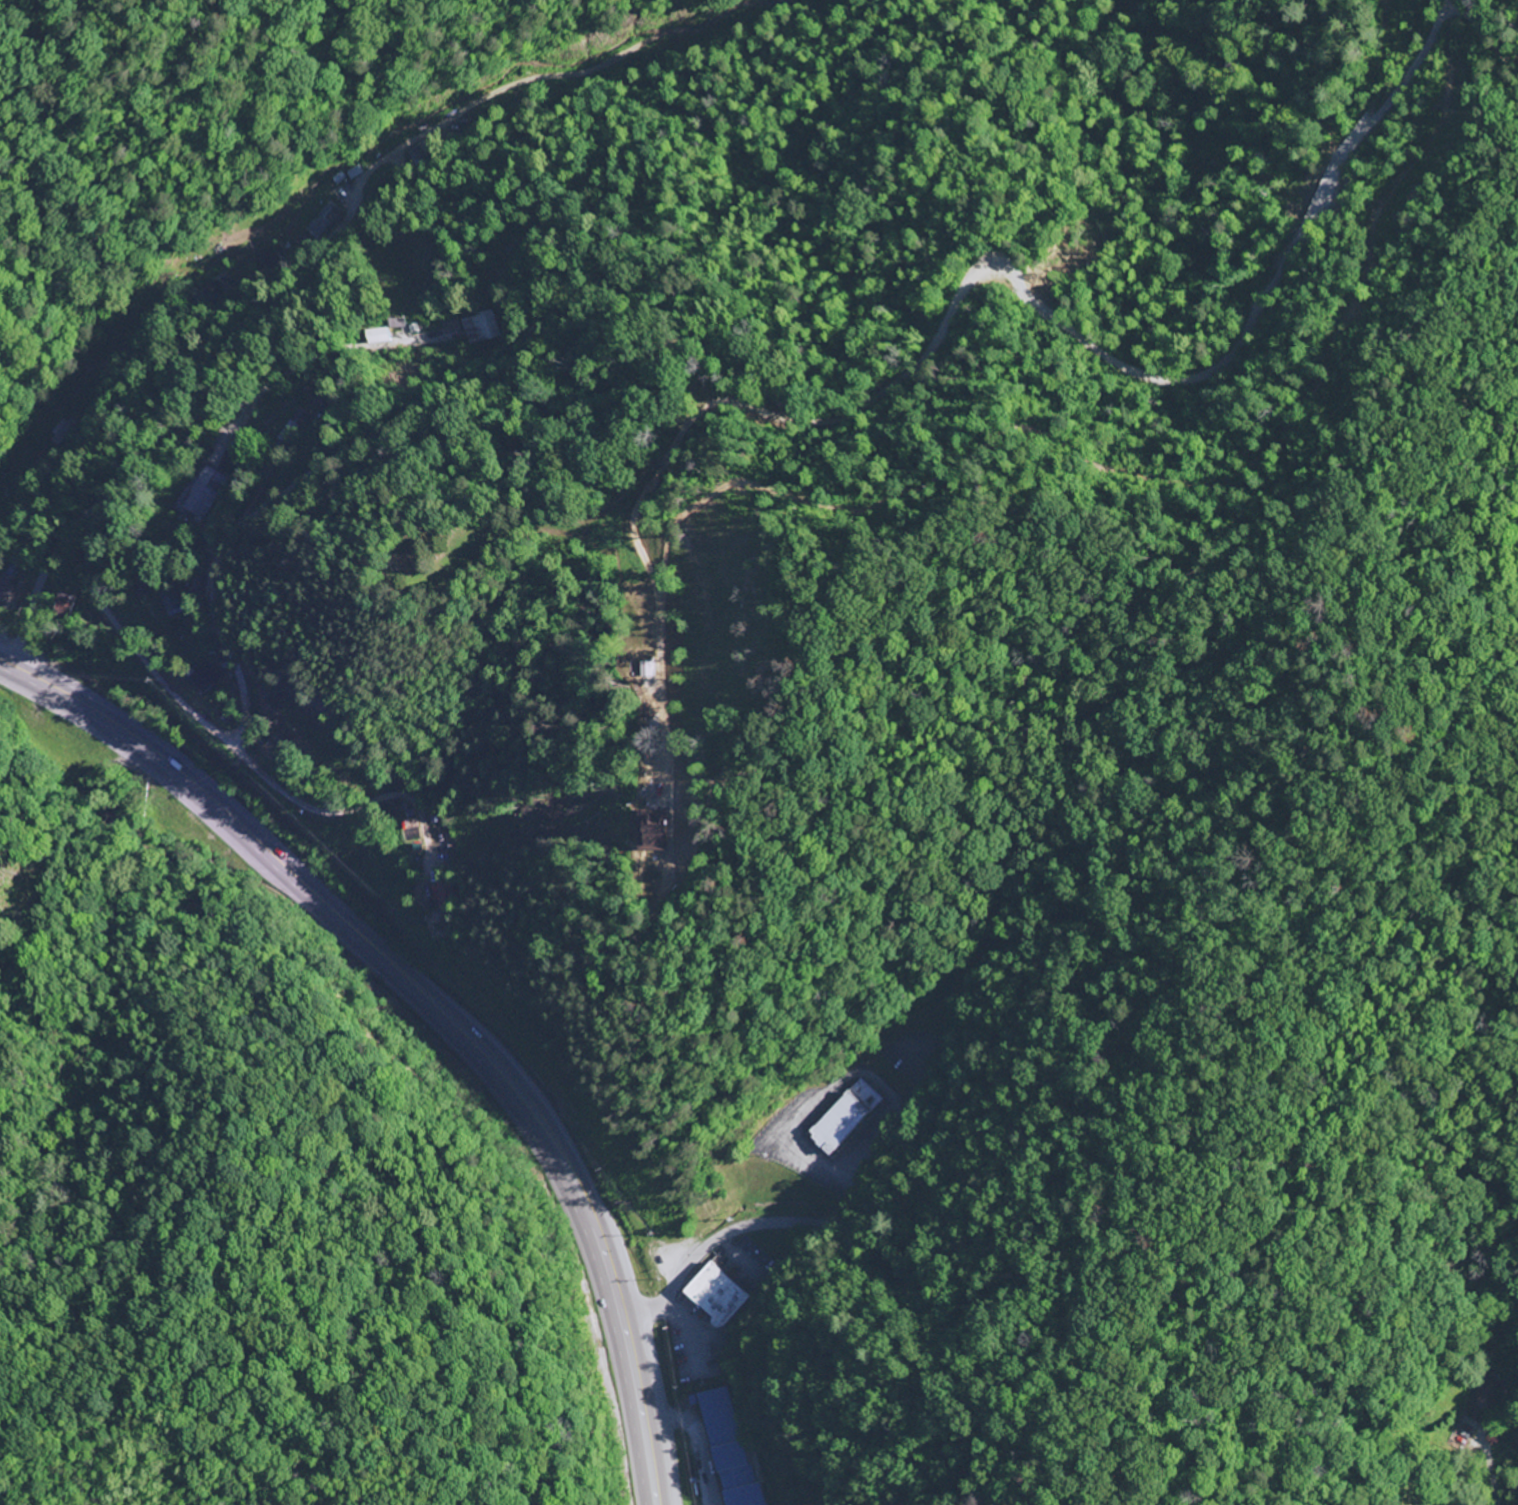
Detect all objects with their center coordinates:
road: (1489, 34)
road: (350, 200)
building: (323, 221)
building: (402, 324)
building: (382, 337)
road: (731, 367)
road: (267, 395)
road: (674, 445)
road: (2, 485)
building: (204, 494)
road: (38, 580)
building: (6, 590)
building: (173, 605)
building: (205, 678)
road: (431, 811)
building: (651, 832)
building: (446, 895)
road: (430, 1009)
building: (846, 1118)
building: (719, 1296)
building: (1484, 1398)
building: (730, 1448)
road: (1499, 1470)

